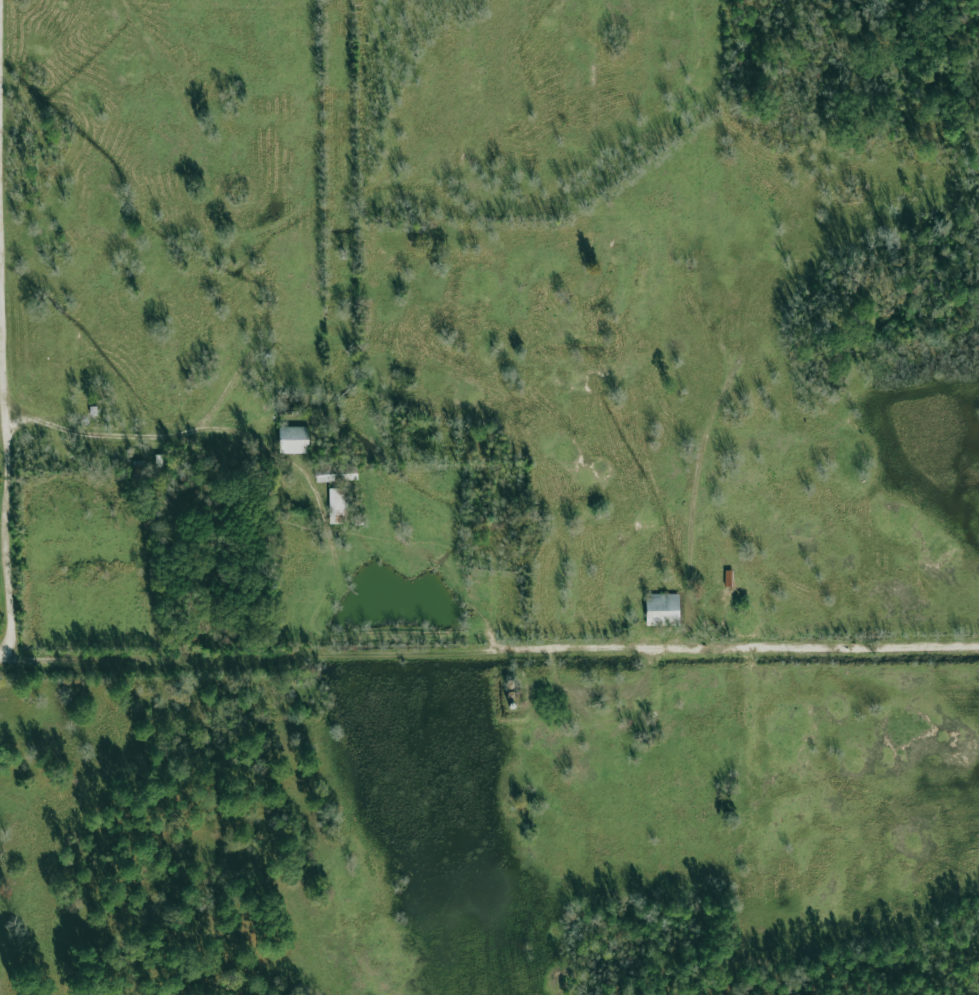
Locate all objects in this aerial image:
road: (434, 321)
road: (11, 327)
building: (293, 439)
road: (158, 442)
building: (335, 472)
building: (338, 505)
building: (662, 609)
road: (494, 642)
road: (5, 656)

